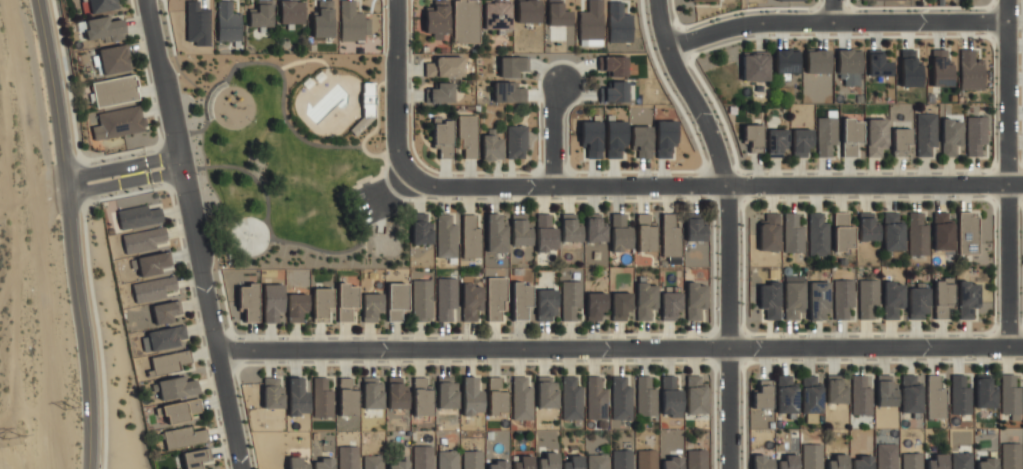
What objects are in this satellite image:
building: (702, 0)
building: (790, 0)
building: (102, 6)
building: (528, 11)
road: (833, 11)
building: (291, 14)
building: (497, 14)
building: (556, 14)
building: (260, 18)
building: (323, 19)
building: (437, 20)
building: (466, 21)
building: (228, 22)
building: (353, 22)
road: (835, 22)
building: (197, 23)
building: (591, 24)
building: (619, 24)
building: (105, 30)
building: (114, 60)
building: (817, 61)
building: (849, 61)
building: (786, 63)
building: (512, 65)
building: (879, 65)
building: (447, 66)
building: (613, 66)
building: (755, 68)
building: (941, 68)
building: (910, 69)
building: (970, 70)
road: (396, 88)
building: (115, 91)
building: (614, 91)
building: (510, 92)
building: (441, 94)
building: (122, 122)
building: (851, 134)
building: (927, 134)
building: (468, 135)
road: (554, 135)
building: (827, 135)
building: (952, 135)
building: (977, 136)
building: (443, 137)
building: (592, 138)
building: (753, 138)
building: (877, 138)
building: (617, 139)
building: (666, 139)
building: (901, 140)
building: (642, 141)
building: (517, 142)
building: (777, 142)
building: (802, 143)
building: (492, 144)
park: (291, 157)
road: (164, 160)
road: (108, 171)
road: (1007, 173)
road: (167, 175)
road: (110, 186)
road: (713, 186)
road: (137, 192)
building: (140, 217)
building: (696, 227)
road: (728, 227)
building: (571, 228)
building: (867, 228)
building: (596, 229)
building: (421, 230)
building: (769, 231)
building: (522, 232)
building: (843, 232)
building: (942, 232)
road: (73, 233)
building: (497, 233)
building: (621, 233)
building: (645, 233)
building: (794, 233)
building: (892, 233)
road: (195, 234)
building: (546, 234)
building: (968, 234)
building: (671, 235)
building: (917, 235)
building: (818, 236)
building: (446, 237)
building: (471, 237)
building: (145, 241)
building: (153, 264)
building: (155, 289)
building: (770, 298)
building: (844, 298)
building: (968, 298)
building: (497, 299)
building: (645, 299)
building: (696, 299)
building: (869, 299)
building: (944, 299)
building: (347, 300)
building: (795, 300)
building: (819, 300)
building: (893, 300)
building: (248, 301)
building: (422, 301)
building: (447, 301)
building: (522, 301)
building: (573, 301)
building: (272, 302)
building: (397, 302)
building: (472, 303)
building: (919, 303)
building: (322, 304)
building: (670, 304)
building: (547, 305)
building: (297, 306)
building: (597, 306)
building: (622, 306)
building: (373, 307)
building: (167, 312)
building: (166, 338)
road: (621, 350)
building: (170, 362)
road: (475, 364)
building: (178, 387)
building: (837, 392)
building: (886, 392)
building: (272, 393)
building: (448, 393)
building: (548, 393)
building: (911, 394)
building: (696, 395)
building: (960, 395)
building: (985, 395)
building: (373, 396)
building: (473, 396)
building: (787, 396)
building: (862, 396)
building: (297, 397)
building: (321, 397)
building: (397, 397)
building: (646, 397)
building: (671, 397)
building: (763, 397)
building: (811, 397)
building: (422, 398)
building: (497, 398)
building: (522, 398)
building: (936, 398)
building: (1010, 398)
building: (572, 399)
building: (596, 400)
building: (622, 400)
building: (347, 407)
power tower: (68, 408)
building: (182, 411)
power tower: (12, 437)
building: (184, 437)
building: (812, 456)
building: (887, 456)
building: (1011, 456)
building: (348, 457)
building: (422, 457)
building: (196, 458)
building: (447, 459)
building: (472, 459)
building: (621, 459)
building: (646, 459)
building: (696, 459)
building: (911, 460)
building: (961, 460)
building: (547, 461)
building: (597, 461)
building: (937, 461)
building: (372, 462)
building: (522, 462)
building: (573, 462)
building: (762, 462)
building: (787, 462)
building: (837, 462)
building: (861, 462)
building: (298, 463)
building: (323, 463)
building: (672, 463)
building: (986, 463)
building: (397, 465)
building: (497, 465)

